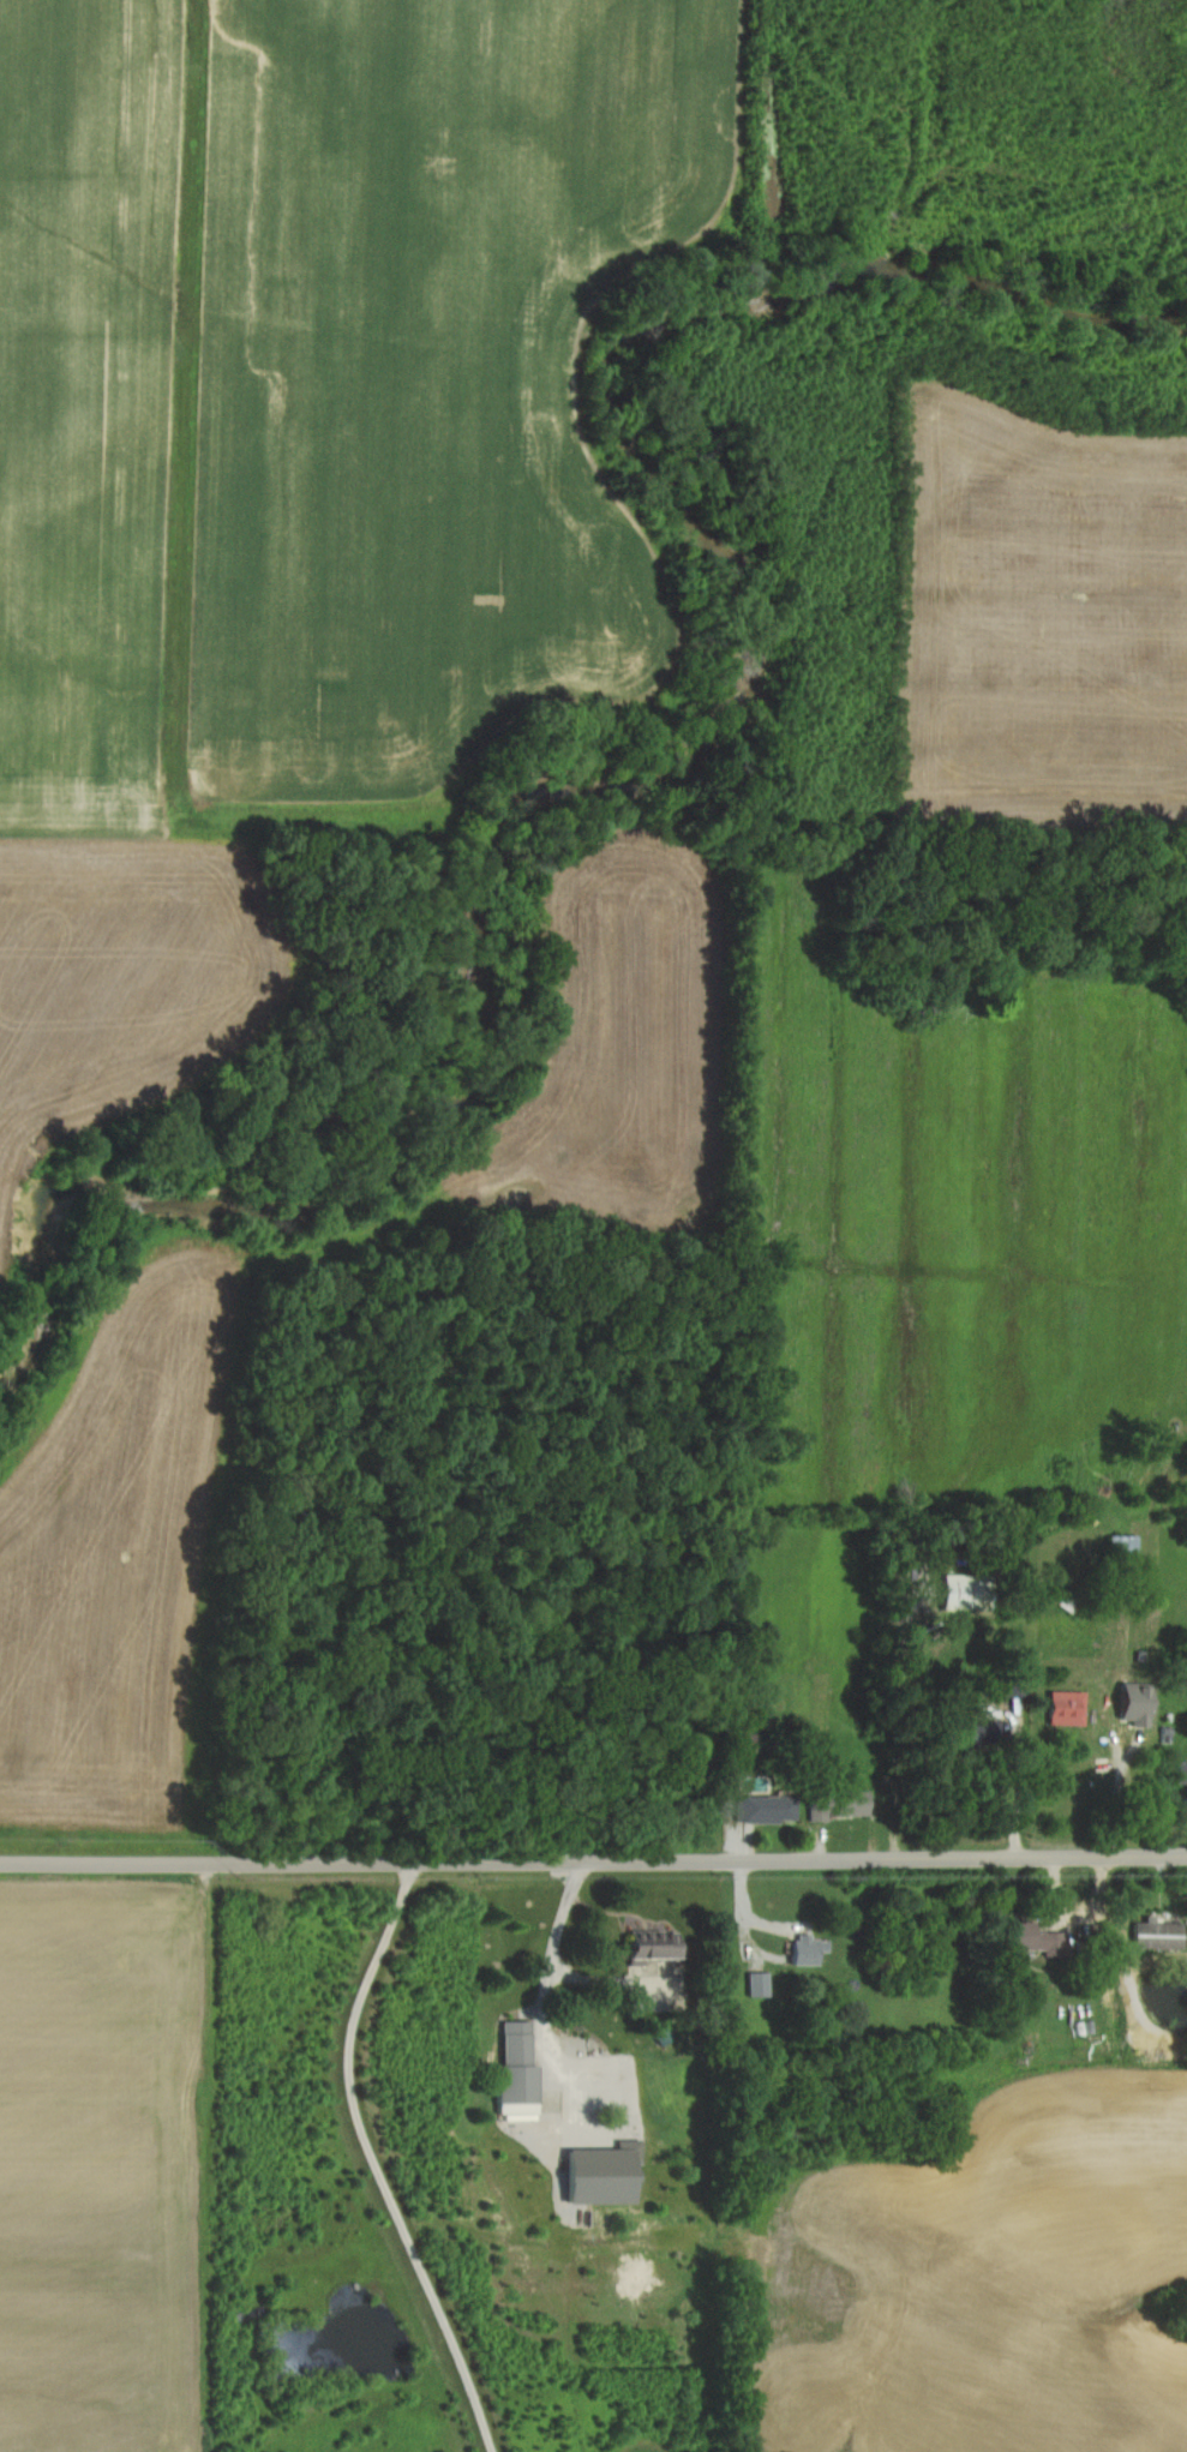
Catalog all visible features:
building: (1127, 1549)
building: (970, 1593)
building: (1139, 1702)
building: (1071, 1707)
road: (900, 1714)
building: (749, 1743)
building: (1183, 1773)
road: (1120, 1792)
building: (855, 1803)
building: (769, 1809)
building: (823, 1809)
road: (593, 1862)
building: (1159, 1934)
building: (1039, 1938)
road: (554, 1941)
building: (657, 1946)
building: (811, 1949)
building: (761, 1984)
road: (539, 2018)
building: (521, 2072)
road: (373, 2159)
crop: (101, 2164)
building: (606, 2175)

